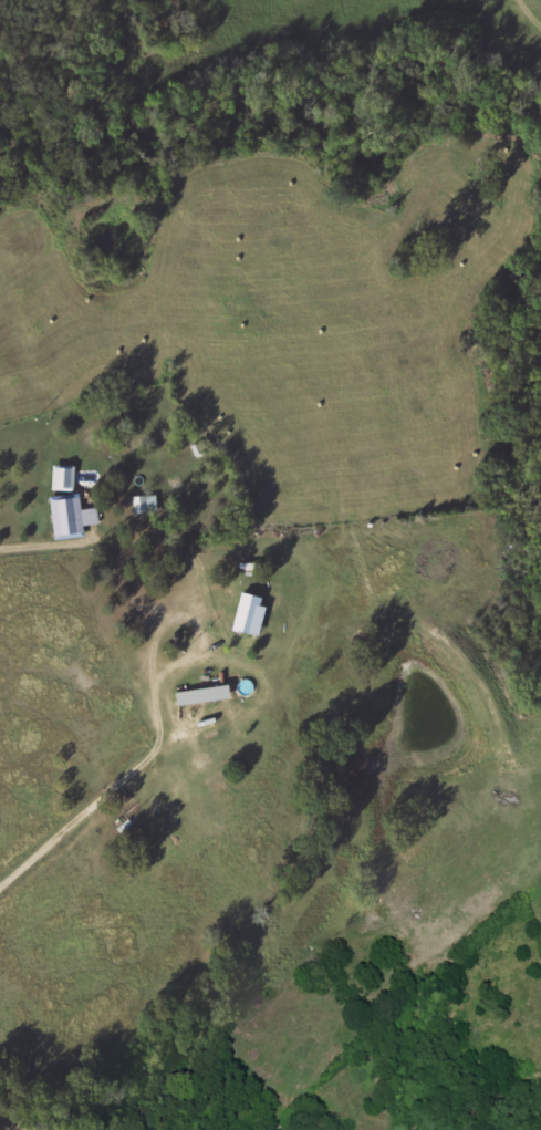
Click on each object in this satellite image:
building: (64, 479)
building: (146, 505)
building: (72, 518)
road: (43, 546)
building: (251, 614)
building: (205, 696)
road: (115, 800)
road: (7, 1117)

